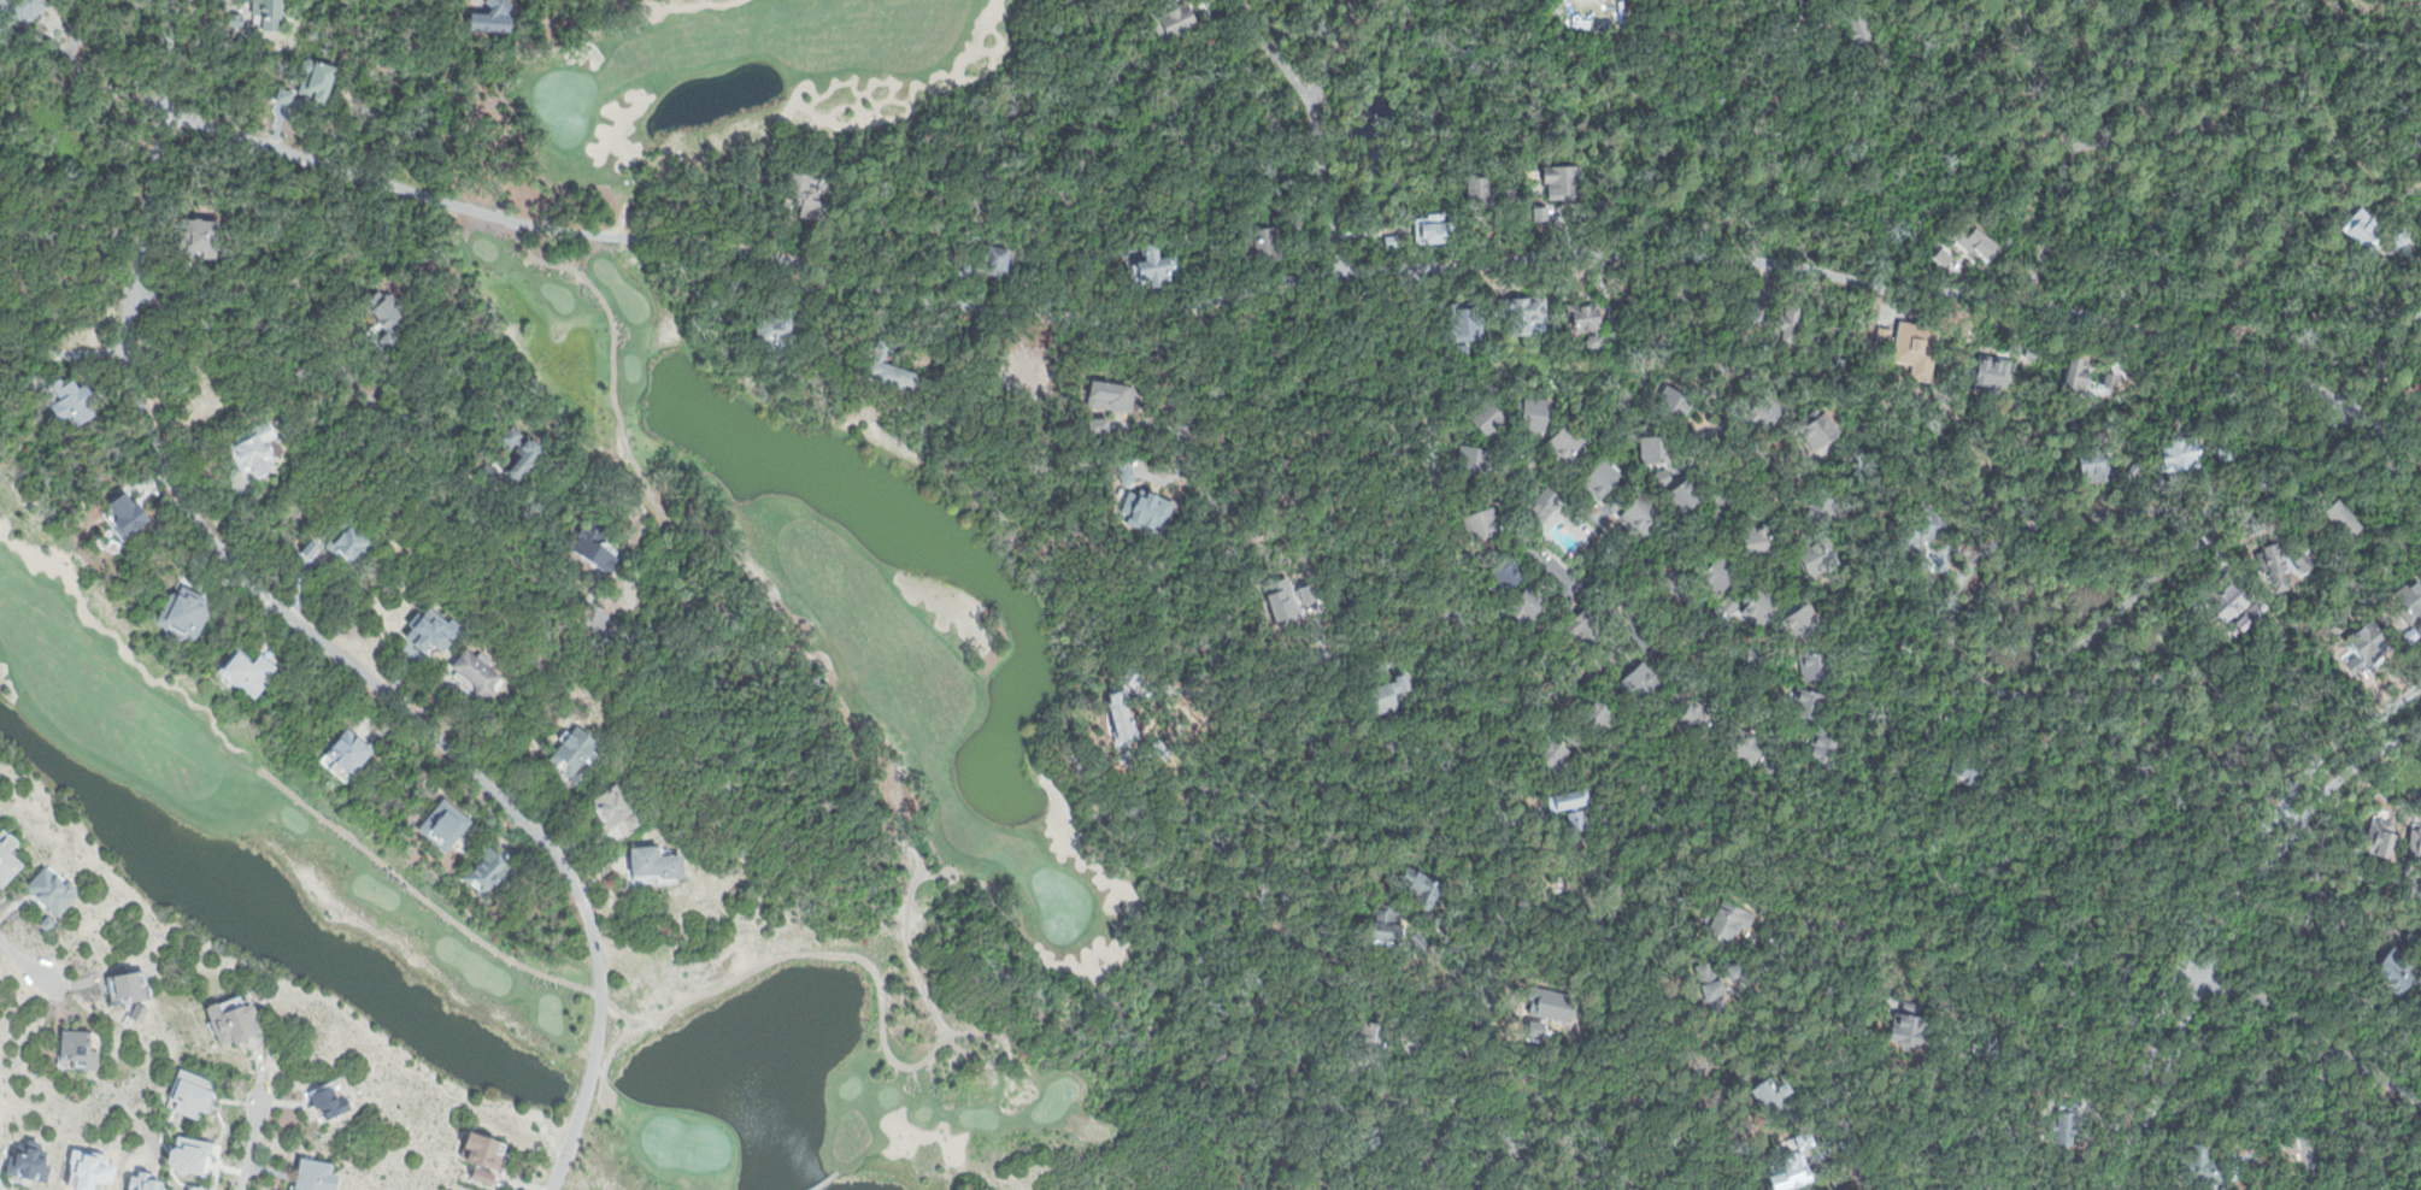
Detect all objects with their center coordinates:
building: (22, 10)
building: (271, 13)
building: (1177, 14)
building: (237, 20)
building: (1858, 23)
road: (70, 57)
building: (317, 83)
building: (284, 95)
road: (1309, 102)
road: (2139, 137)
road: (2069, 159)
building: (1564, 183)
road: (1334, 187)
building: (1479, 194)
building: (806, 200)
road: (1753, 210)
building: (1542, 217)
building: (2362, 225)
building: (1433, 229)
building: (204, 232)
building: (1393, 237)
building: (2399, 237)
building: (1264, 243)
road: (1091, 251)
building: (988, 259)
building: (1156, 269)
road: (1293, 281)
building: (1528, 312)
building: (1758, 312)
building: (1585, 314)
building: (1788, 325)
building: (778, 326)
building: (1467, 326)
building: (1884, 334)
building: (1593, 341)
building: (1916, 349)
road: (58, 360)
road: (2386, 365)
building: (892, 369)
building: (1993, 371)
road: (1188, 373)
building: (2093, 375)
building: (2420, 389)
building: (71, 399)
building: (1680, 406)
building: (1767, 412)
building: (1535, 413)
building: (2420, 414)
building: (1489, 418)
road: (384, 424)
building: (1820, 430)
road: (1749, 431)
building: (1567, 440)
road: (2309, 444)
building: (2182, 447)
building: (1657, 448)
building: (253, 453)
building: (522, 453)
building: (1476, 460)
building: (2105, 460)
building: (1664, 476)
building: (1605, 484)
building: (1686, 495)
building: (1547, 503)
building: (1827, 507)
building: (128, 513)
building: (1646, 517)
building: (2344, 519)
building: (1483, 523)
building: (1917, 528)
building: (1759, 541)
building: (348, 542)
building: (114, 547)
building: (310, 548)
building: (595, 549)
building: (1557, 553)
building: (1820, 554)
road: (1649, 562)
building: (2275, 565)
building: (1722, 572)
building: (1503, 573)
building: (2408, 600)
building: (1532, 605)
building: (1764, 606)
building: (2238, 607)
building: (184, 612)
building: (1805, 623)
road: (305, 626)
building: (1586, 628)
building: (433, 630)
road: (1633, 631)
building: (1753, 650)
road: (1339, 659)
building: (1820, 665)
building: (252, 672)
building: (475, 676)
building: (1641, 678)
road: (2023, 691)
building: (1382, 694)
building: (1814, 701)
building: (1604, 717)
building: (1693, 720)
road: (1489, 738)
building: (1558, 743)
building: (1827, 744)
building: (1749, 748)
building: (575, 749)
building: (346, 750)
building: (1968, 767)
building: (1574, 805)
building: (613, 812)
building: (445, 824)
building: (2380, 835)
building: (2411, 849)
building: (6, 852)
road: (2344, 859)
building: (658, 864)
building: (486, 871)
building: (52, 886)
building: (1429, 892)
road: (2213, 903)
building: (48, 920)
road: (2225, 923)
building: (1393, 924)
road: (1797, 930)
road: (24, 961)
building: (2396, 972)
building: (128, 988)
road: (1405, 989)
road: (2258, 1003)
building: (139, 1012)
building: (233, 1021)
building: (1909, 1026)
building: (1409, 1038)
building: (1369, 1039)
building: (78, 1047)
road: (2323, 1062)
building: (194, 1094)
building: (1776, 1098)
building: (331, 1100)
road: (1849, 1109)
building: (2068, 1120)
road: (251, 1145)
building: (188, 1154)
building: (483, 1155)
building: (29, 1160)
building: (2211, 1162)
building: (316, 1174)
building: (145, 1180)
road: (816, 1183)
building: (195, 1188)

